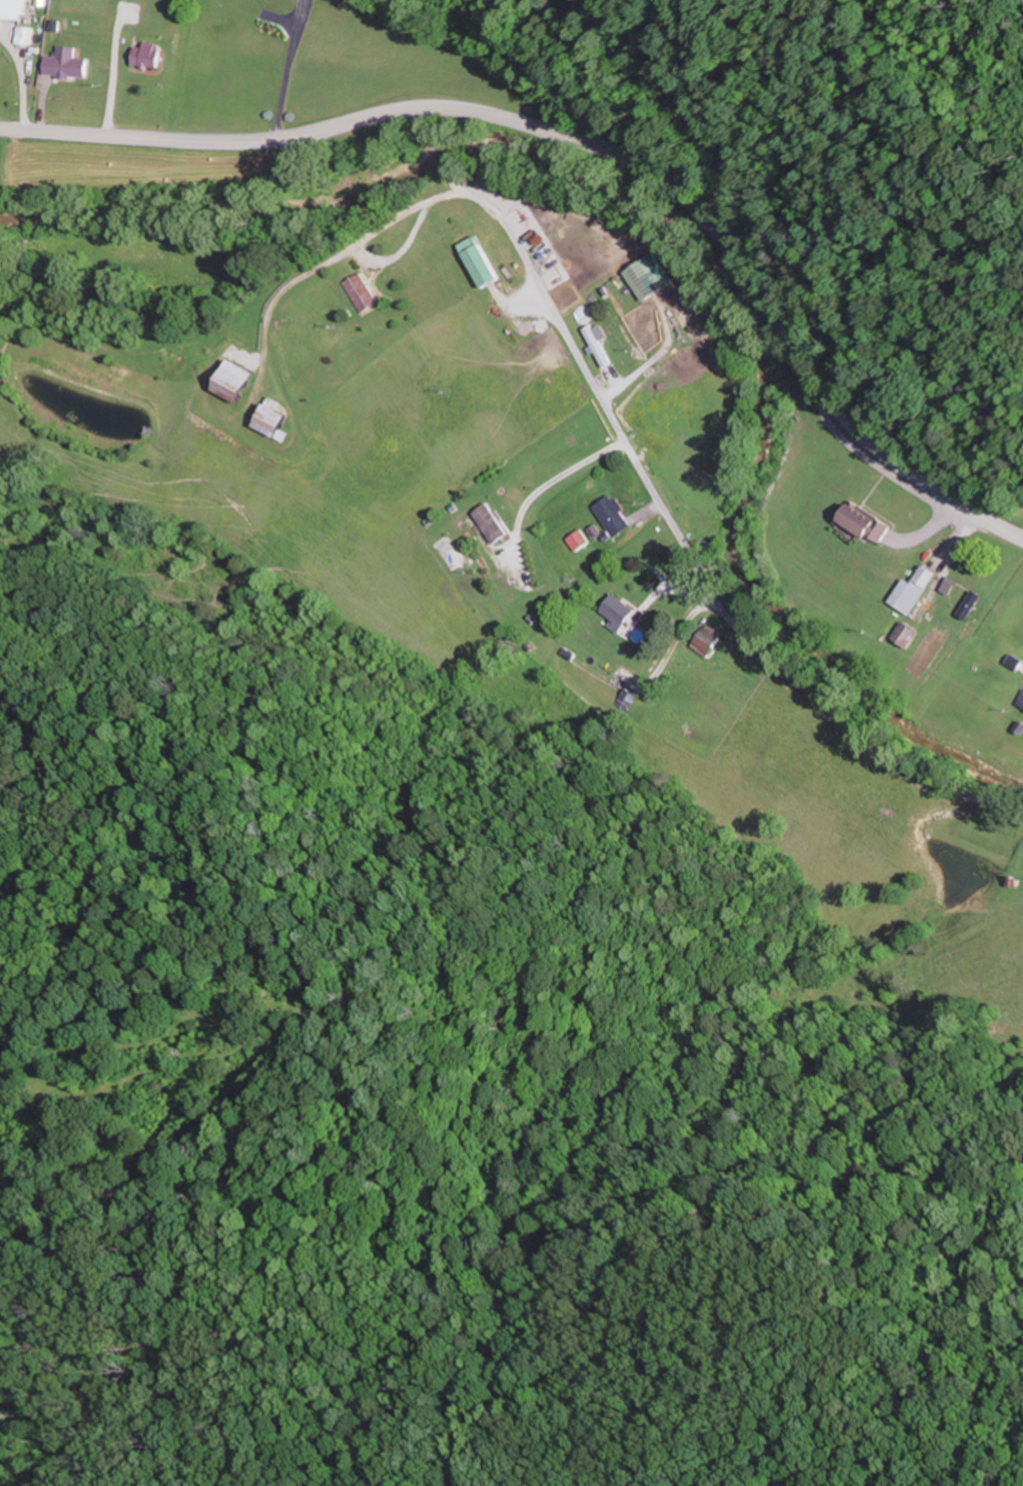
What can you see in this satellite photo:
building: (15, 7)
building: (29, 34)
building: (151, 54)
building: (69, 65)
road: (589, 145)
building: (482, 261)
building: (652, 277)
building: (365, 292)
building: (602, 346)
building: (238, 378)
road: (664, 514)
building: (617, 516)
building: (493, 521)
building: (871, 523)
building: (964, 578)
building: (914, 590)
building: (620, 611)
building: (909, 635)
building: (709, 639)
building: (625, 699)
building: (1021, 701)

